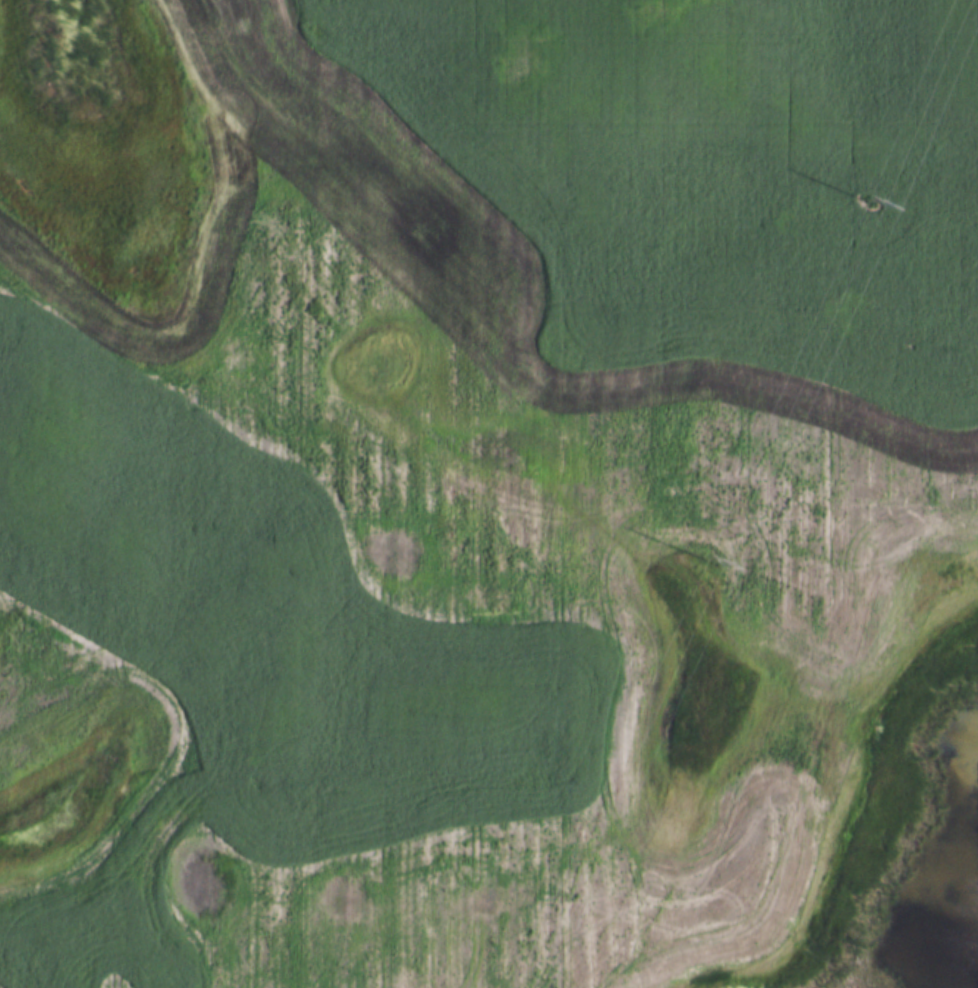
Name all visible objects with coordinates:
power tower: (862, 201)
power tower: (707, 552)

